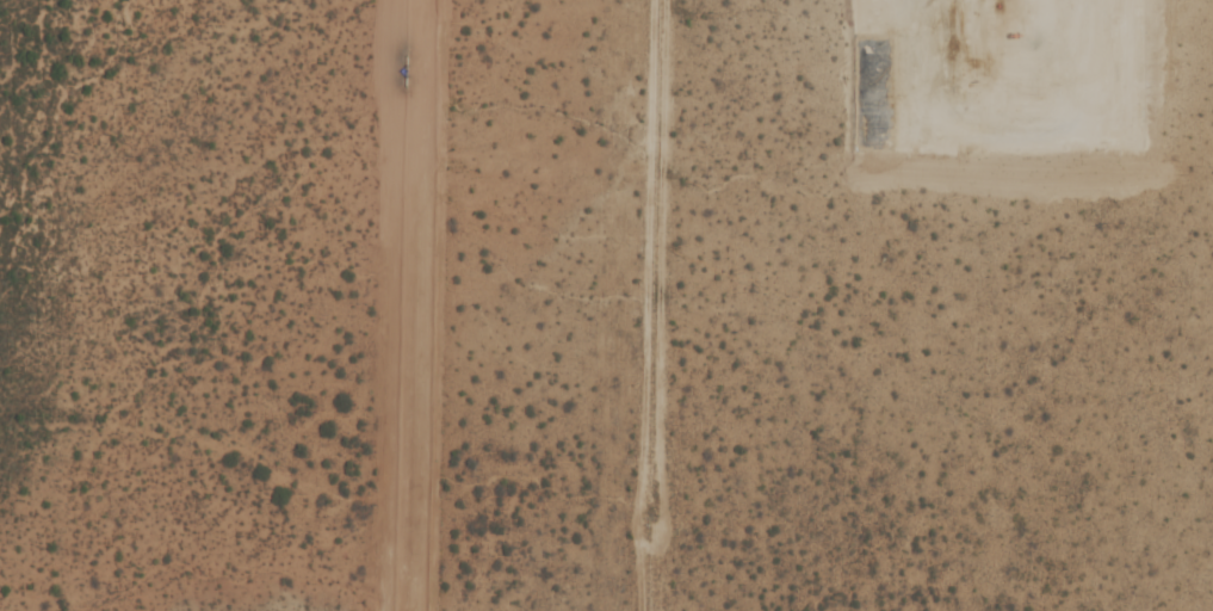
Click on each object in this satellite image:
petroleum well: (992, 1)
road: (1077, 125)
road: (1130, 366)

